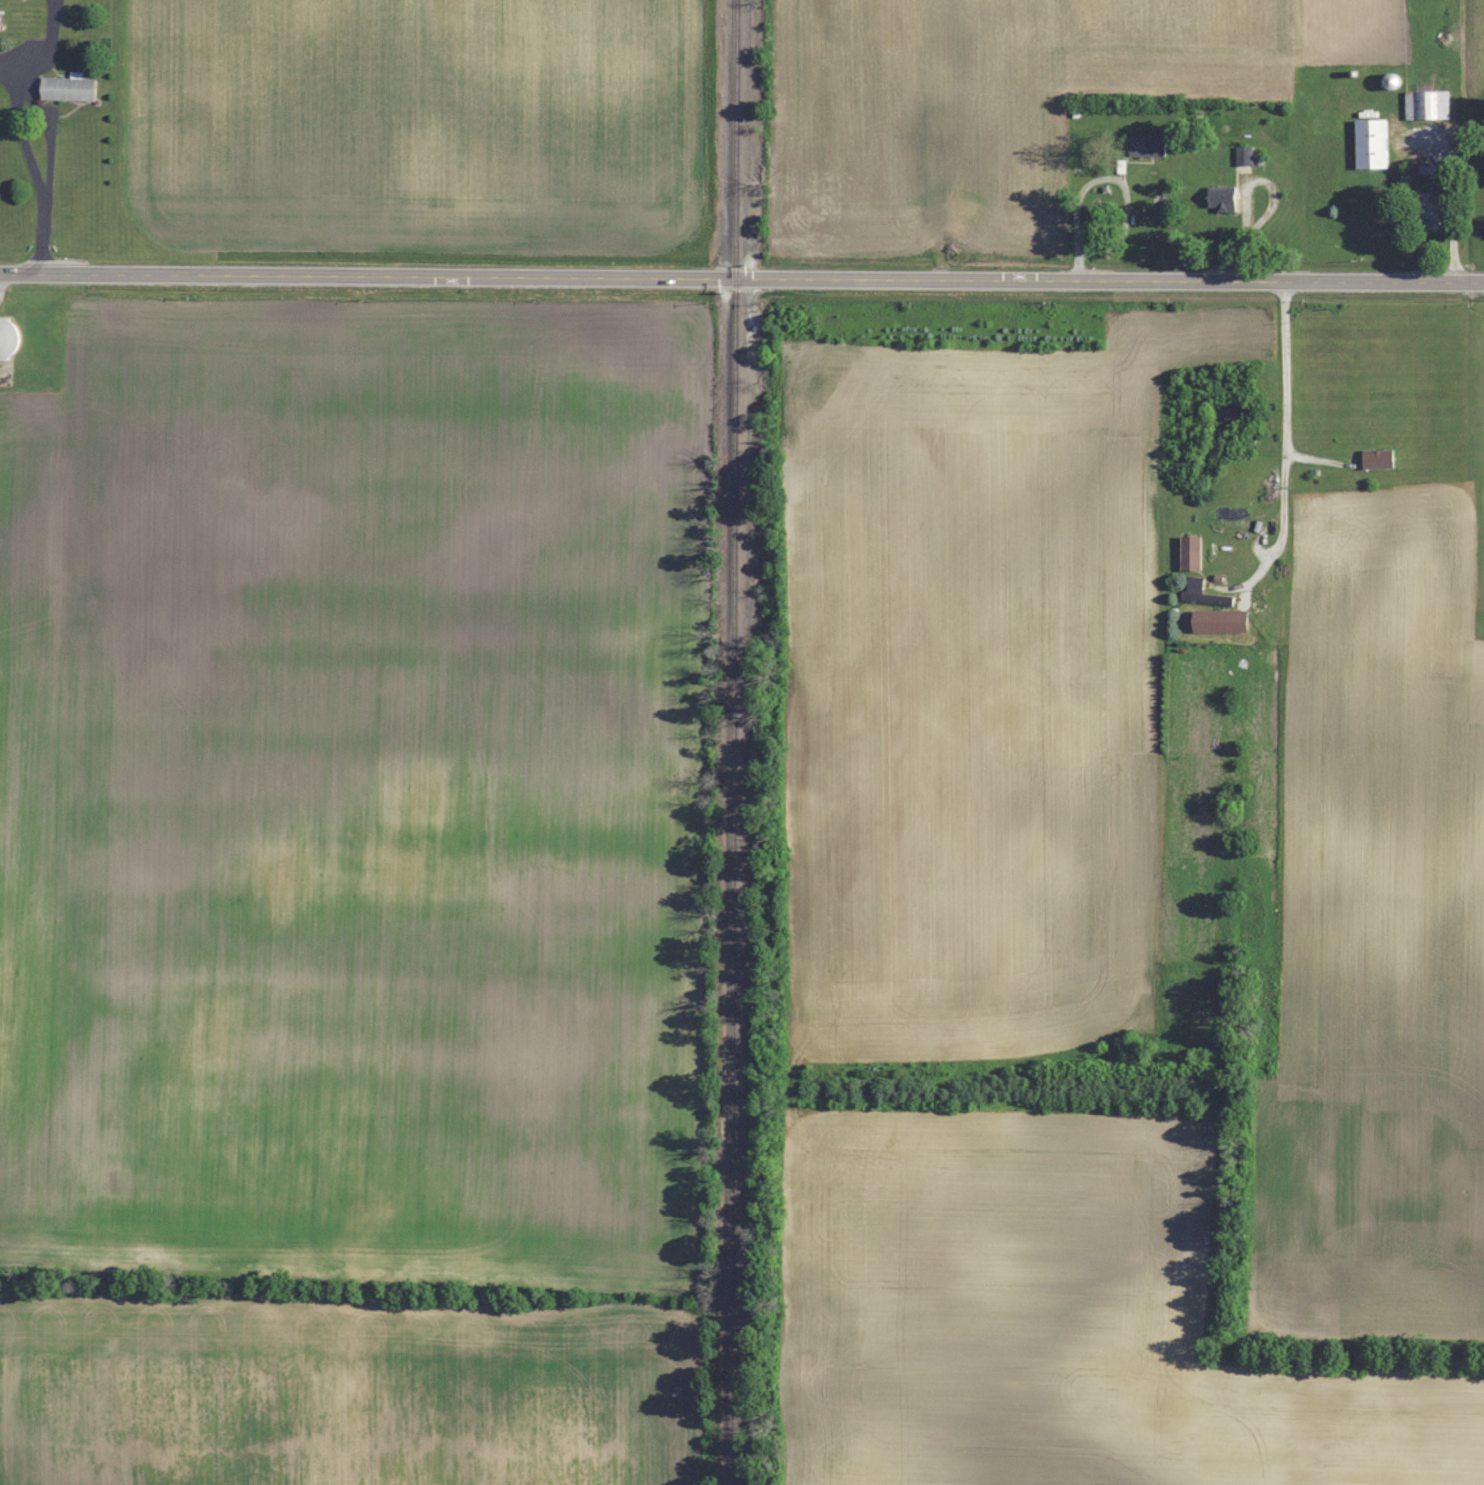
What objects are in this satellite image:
road: (47, 43)
road: (5, 66)
building: (1388, 81)
building: (72, 89)
building: (1426, 105)
building: (1369, 143)
building: (1145, 146)
building: (1243, 155)
road: (32, 169)
road: (1108, 178)
building: (1219, 198)
building: (1426, 209)
road: (741, 279)
building: (9, 338)
road: (1283, 438)
building: (1375, 458)
building: (1188, 551)
building: (1193, 587)
railway: (734, 742)

